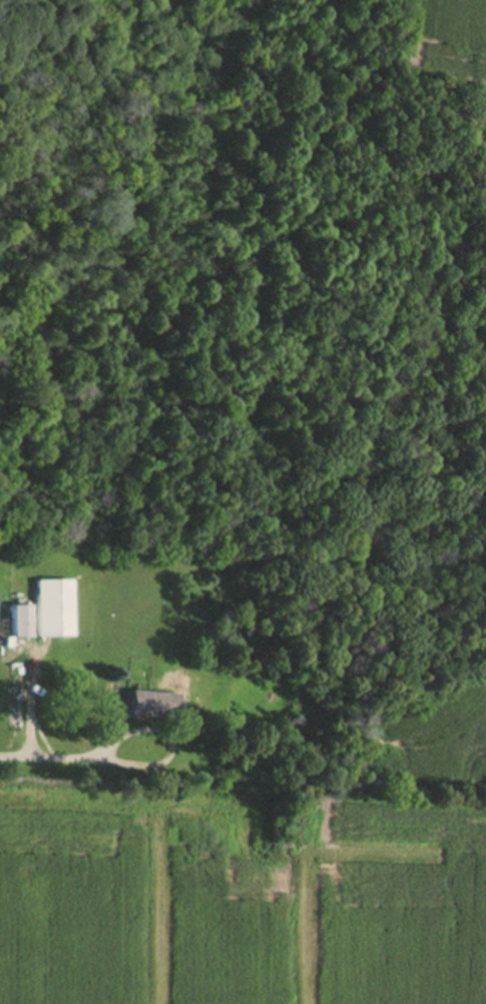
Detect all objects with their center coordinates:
building: (54, 610)
building: (20, 623)
building: (151, 705)
road: (165, 742)
road: (47, 752)

